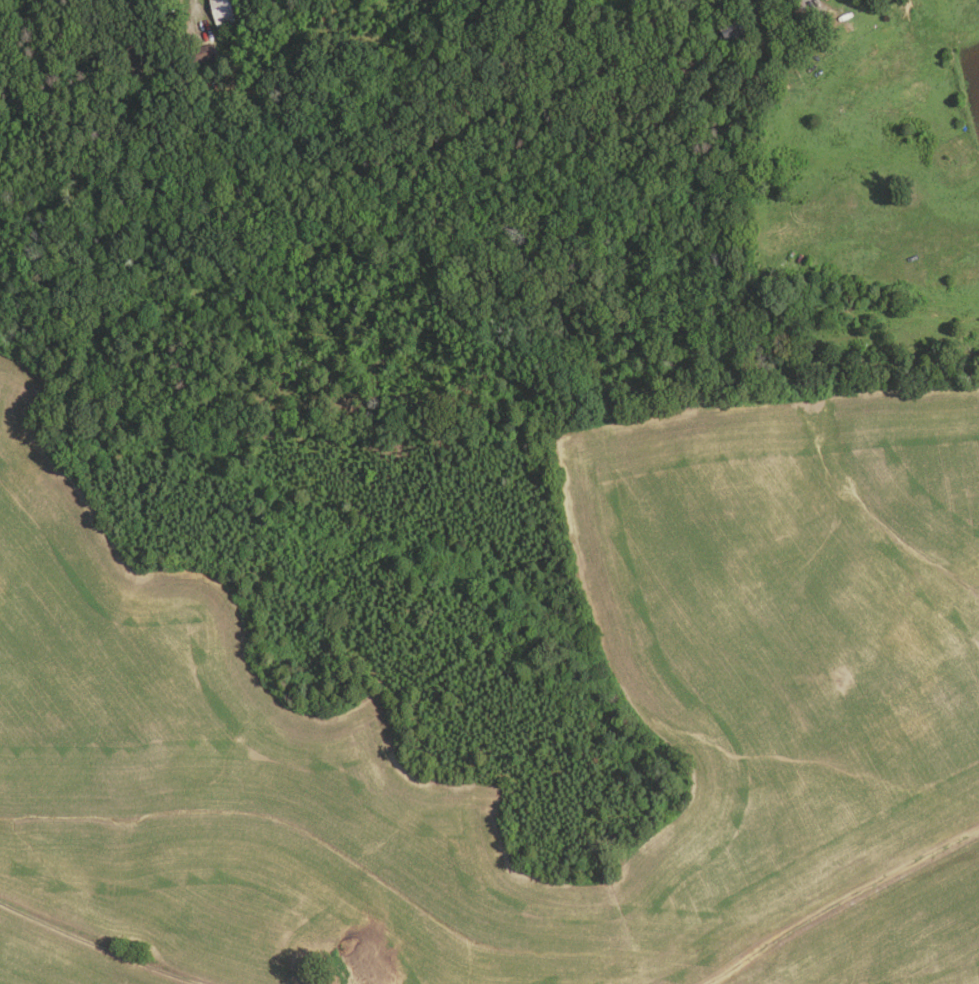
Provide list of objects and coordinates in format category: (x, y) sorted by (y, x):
road: (810, 1)
building: (221, 12)
road: (196, 17)
building: (733, 28)
building: (825, 48)
building: (200, 53)
building: (135, 55)
building: (235, 105)
road: (842, 900)
road: (96, 945)

